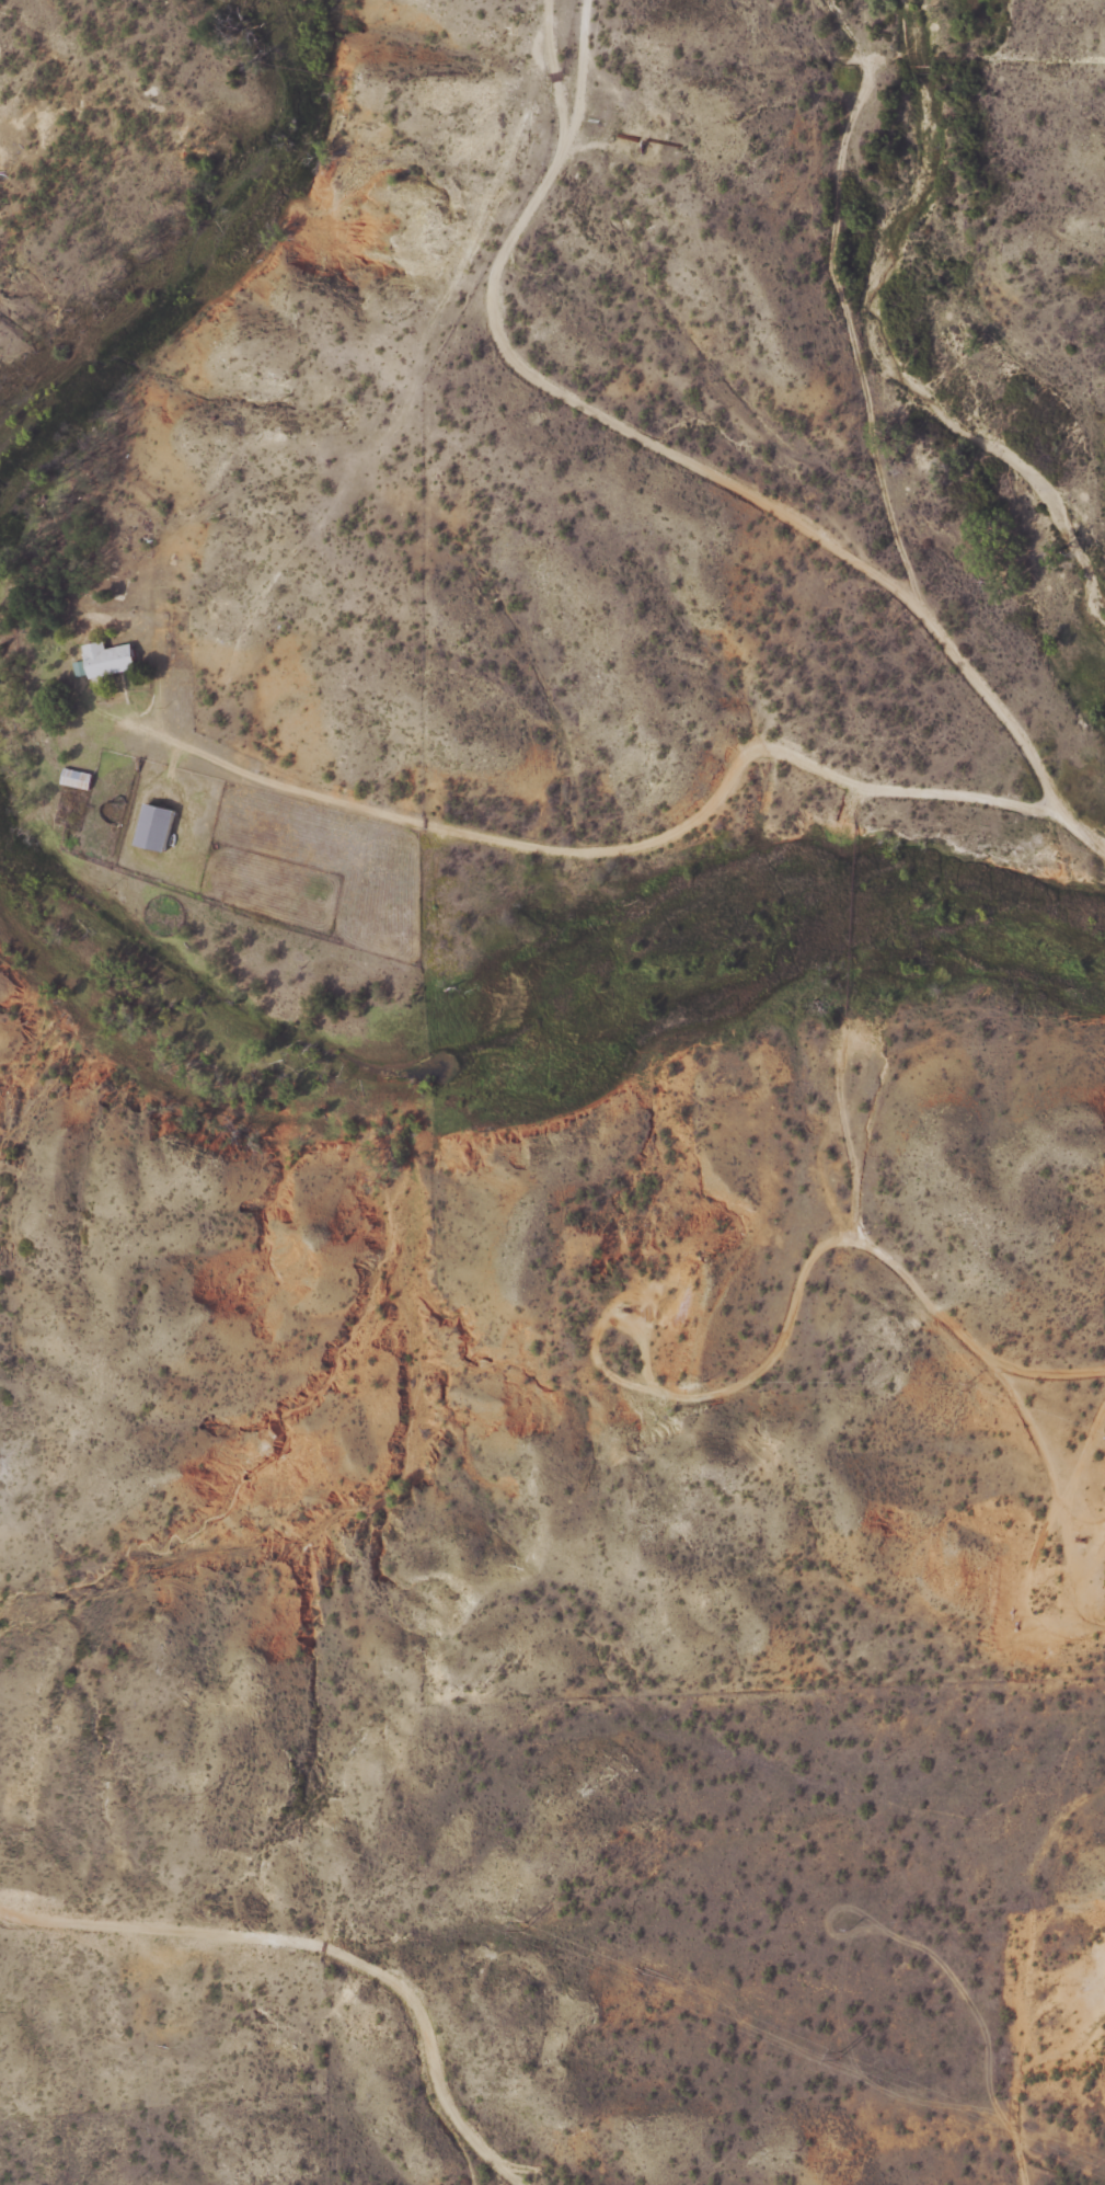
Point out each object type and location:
building: (107, 659)
power tower: (208, 1796)
power tower: (522, 1924)
power tower: (837, 2056)

